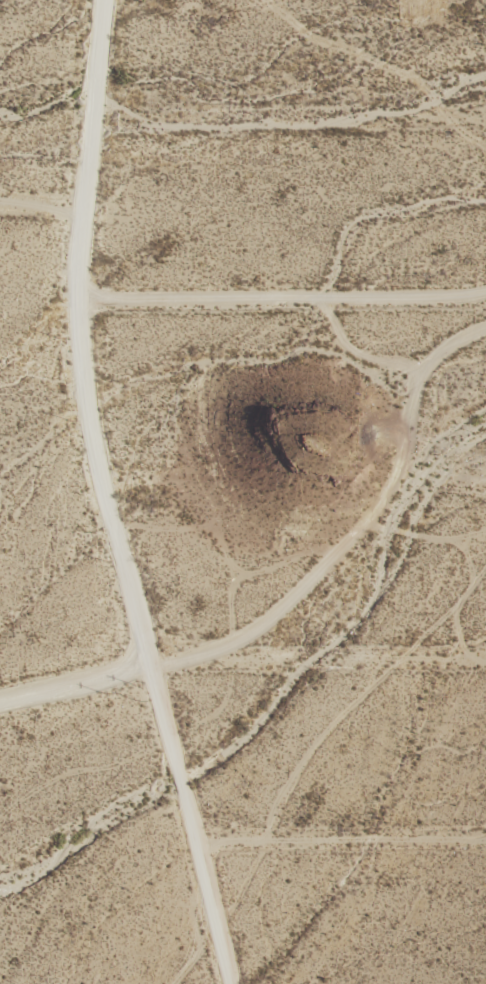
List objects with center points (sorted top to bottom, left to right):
road: (257, 157)
road: (39, 204)
road: (282, 303)
road: (100, 497)
road: (304, 589)
road: (445, 776)
road: (184, 953)

